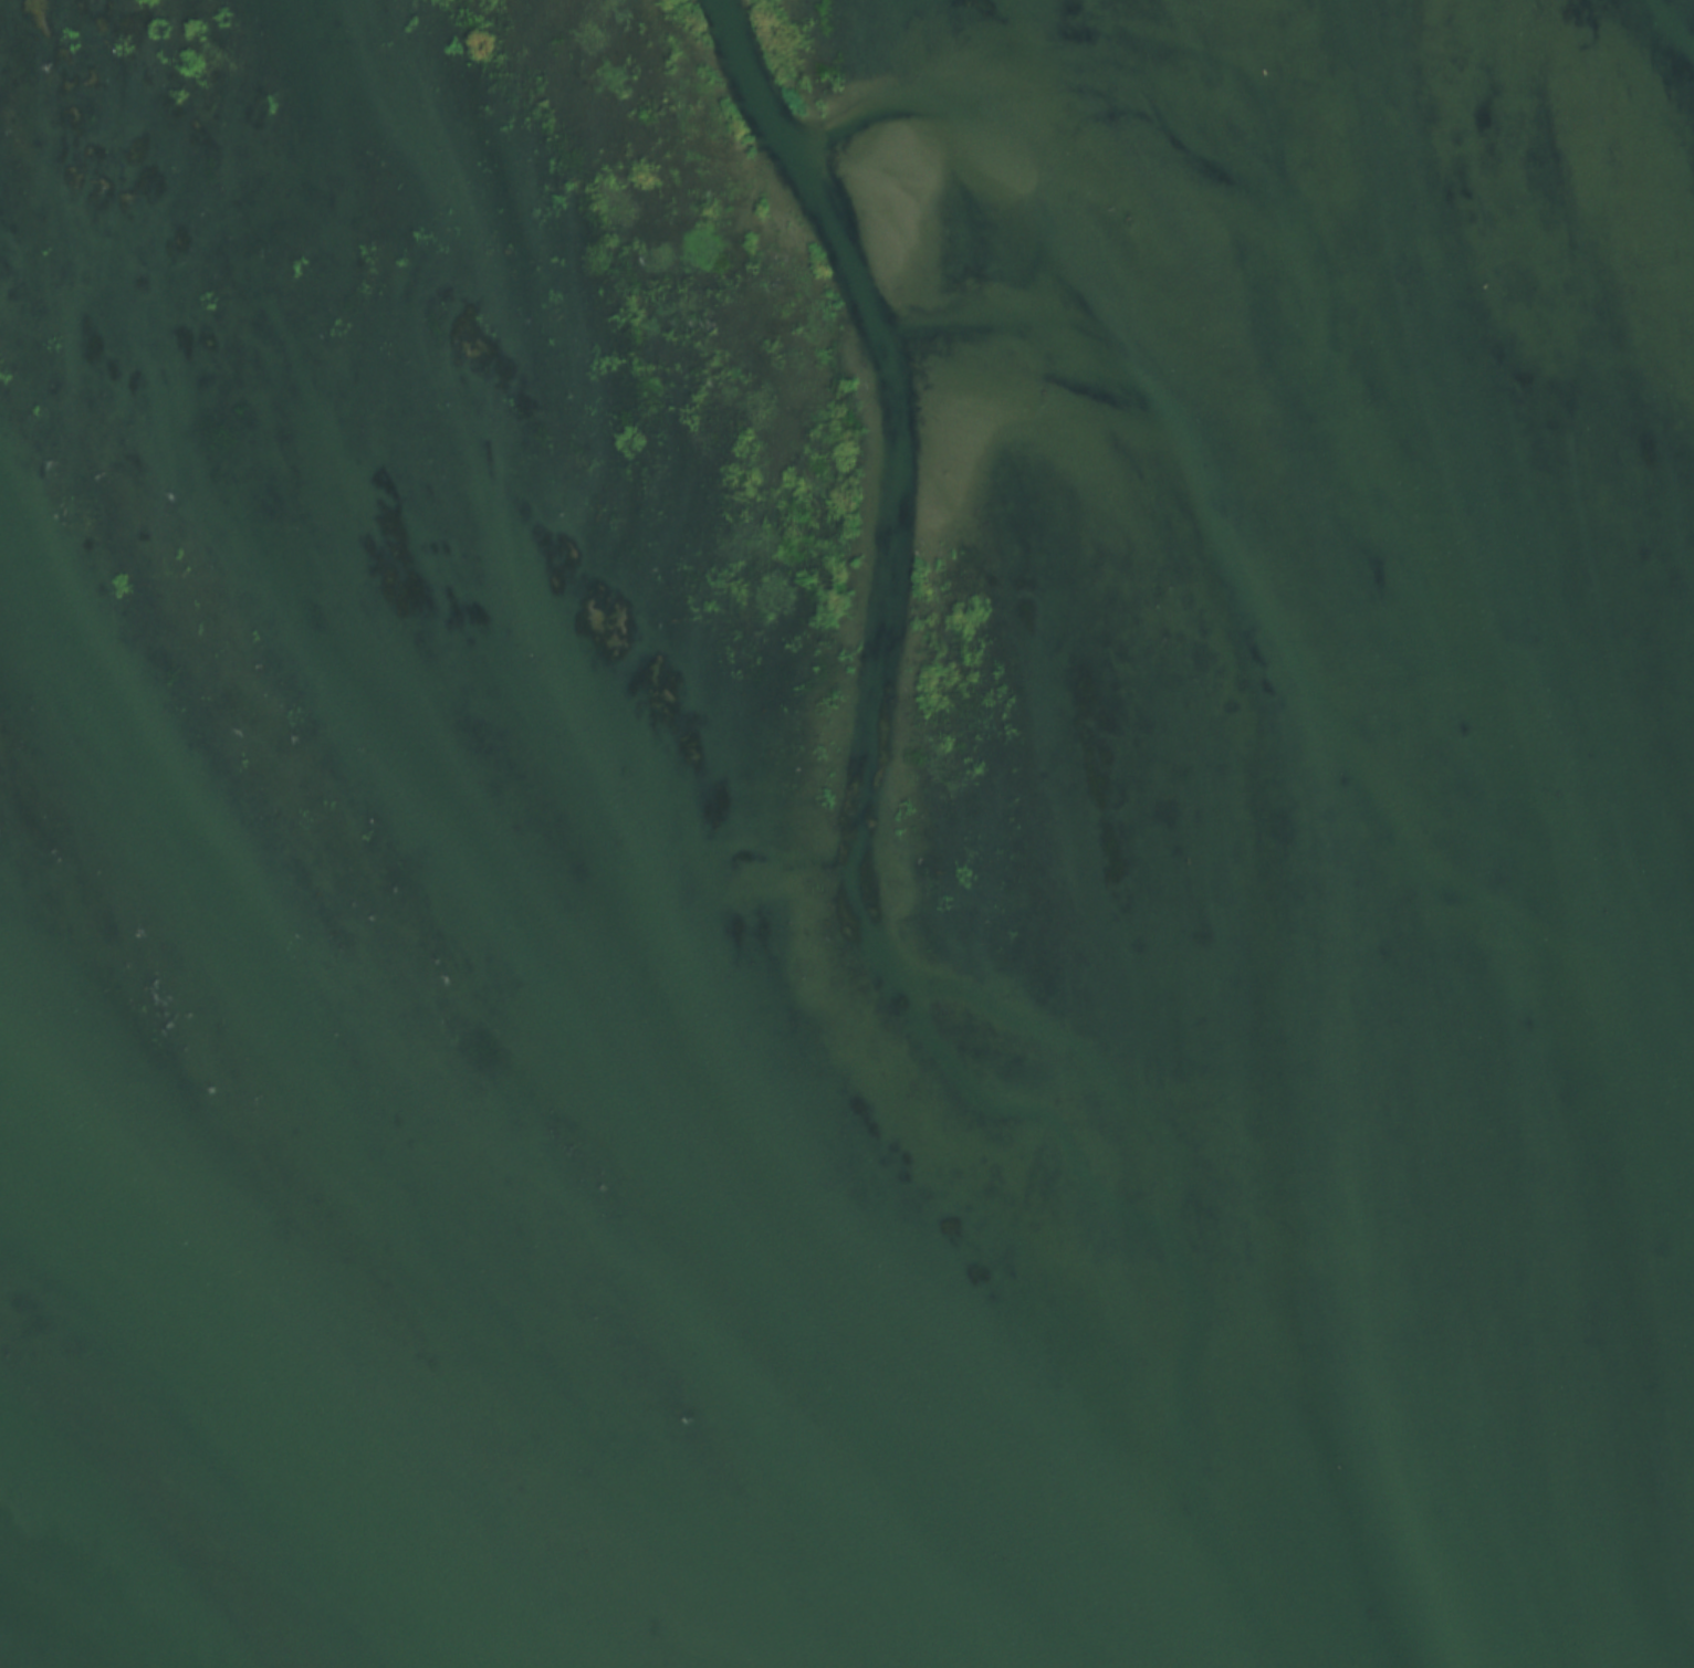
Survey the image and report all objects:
river: (105, 1404)

